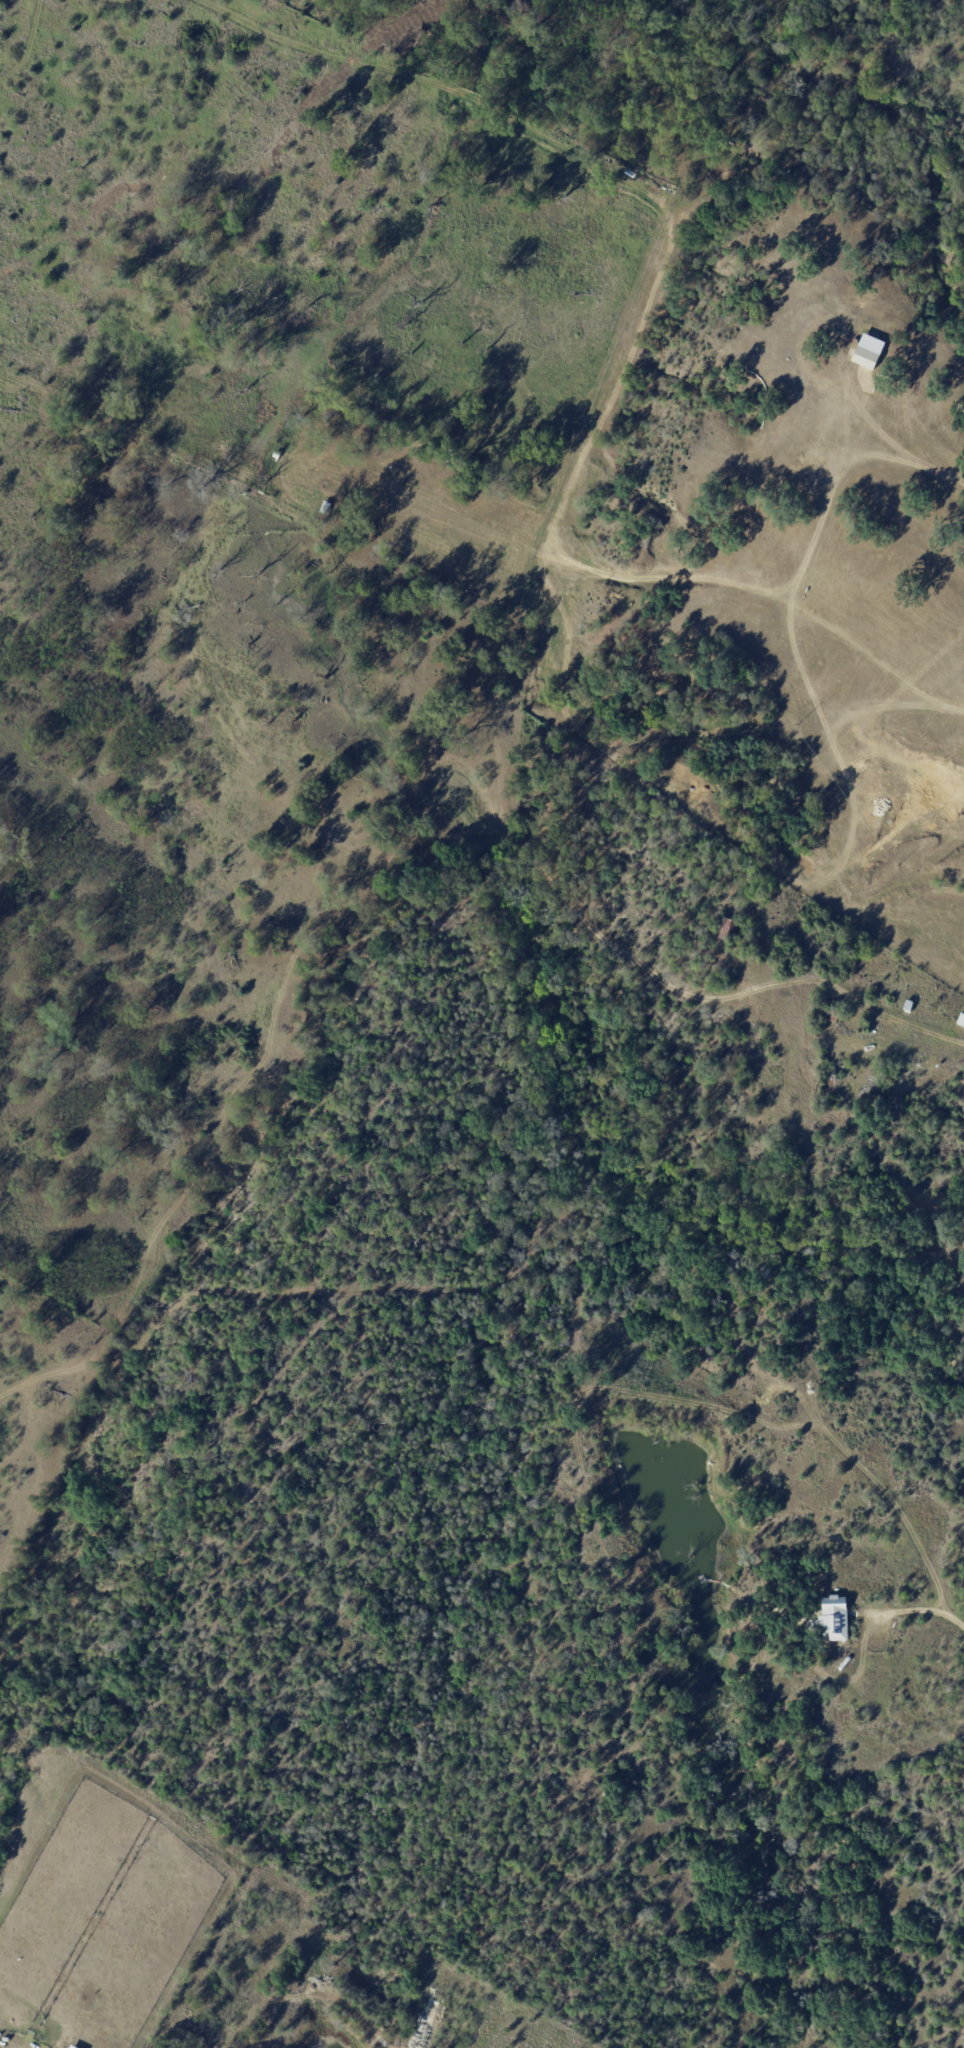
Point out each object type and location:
building: (869, 351)
building: (904, 383)
building: (862, 391)
building: (804, 423)
road: (911, 448)
building: (706, 463)
building: (799, 476)
building: (848, 569)
building: (938, 622)
building: (961, 684)
building: (701, 835)
building: (727, 929)
building: (709, 963)
road: (807, 976)
building: (824, 1013)
building: (835, 1076)
building: (871, 1086)
road: (928, 1612)
building: (833, 1619)

